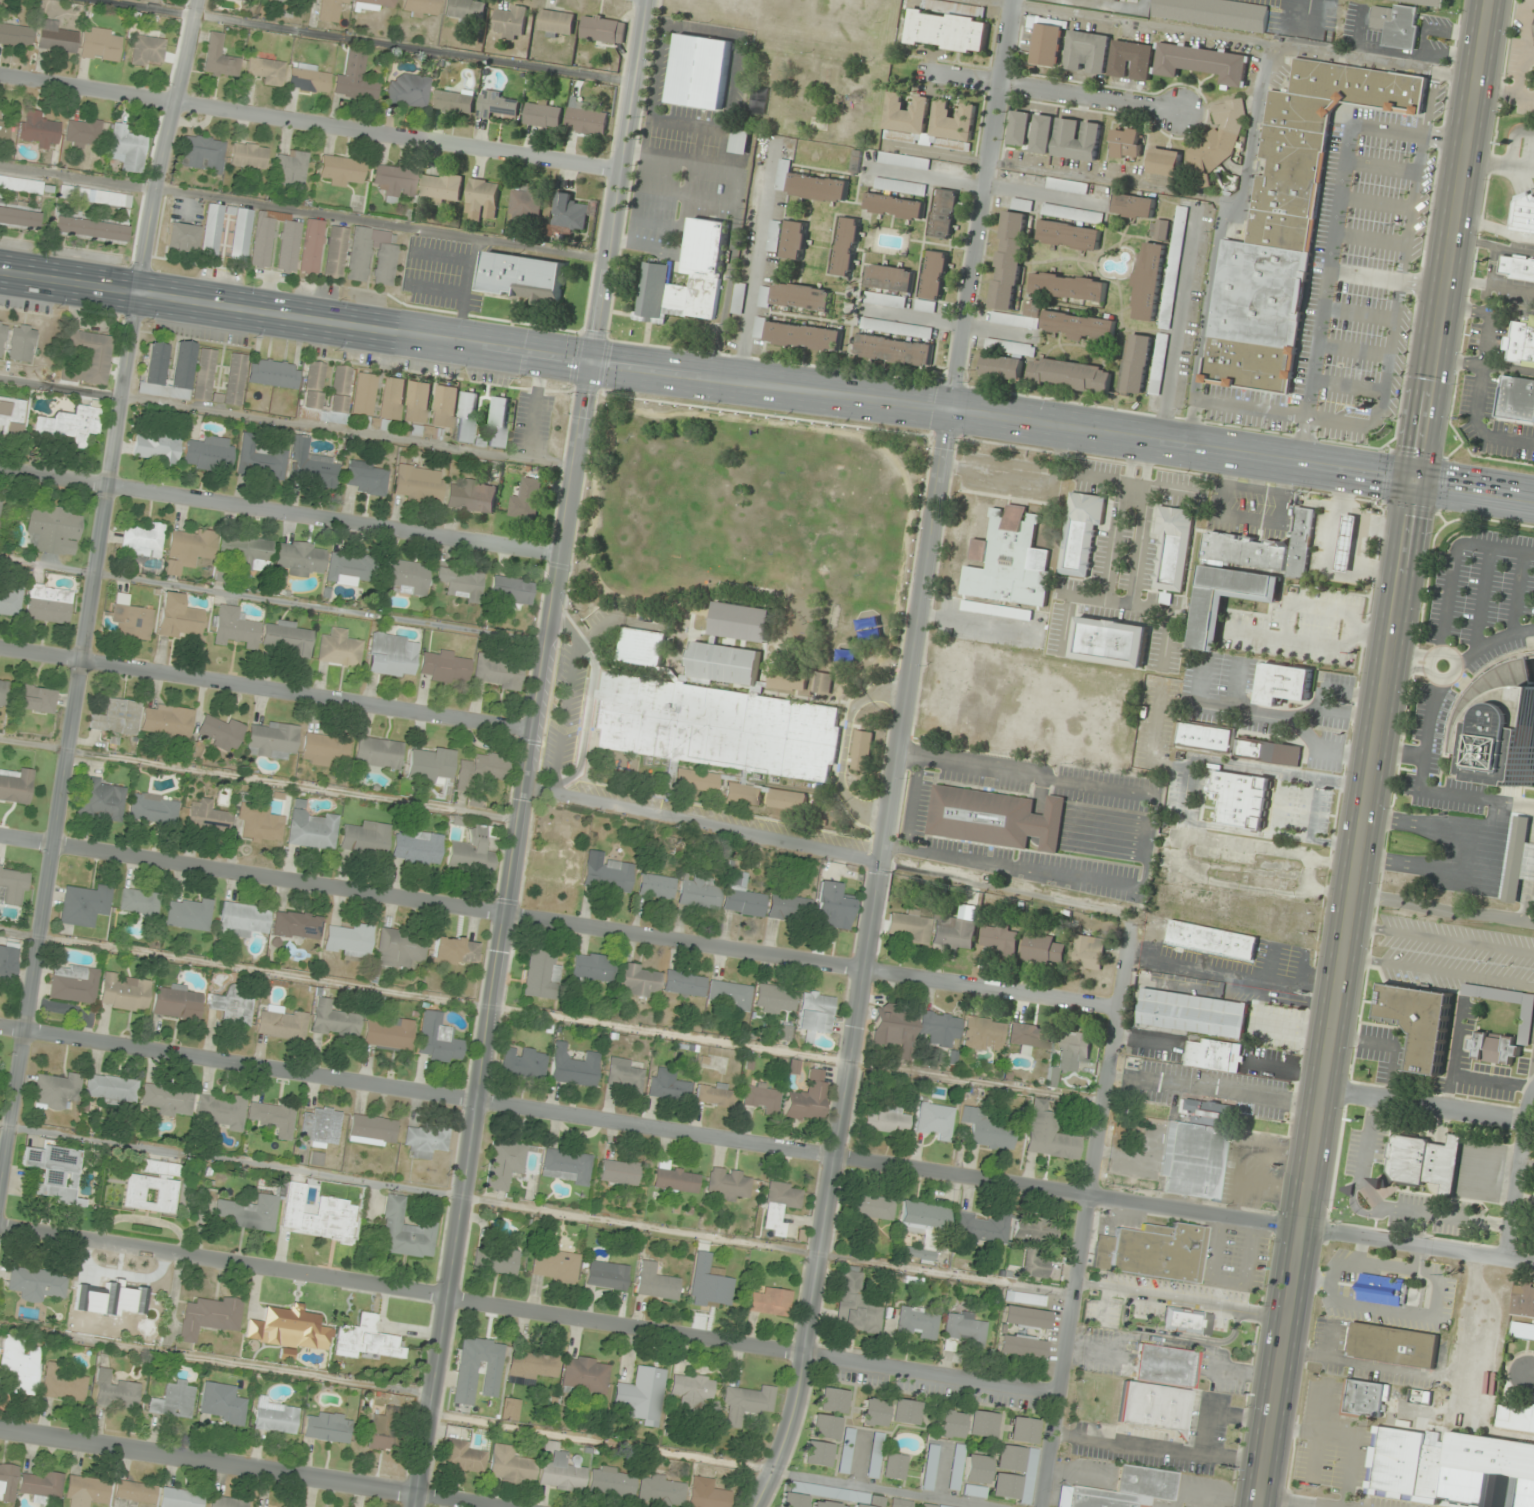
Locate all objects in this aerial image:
building: (285, 1)
building: (1425, 2)
building: (372, 4)
building: (421, 7)
building: (329, 9)
building: (466, 9)
building: (1213, 13)
building: (510, 23)
building: (557, 24)
road: (1139, 24)
building: (1397, 25)
building: (603, 29)
building: (947, 32)
building: (15, 35)
building: (56, 37)
building: (101, 44)
building: (1047, 46)
building: (147, 50)
building: (1087, 53)
building: (220, 58)
road: (1365, 59)
building: (1132, 60)
building: (1203, 63)
building: (265, 71)
building: (700, 71)
building: (309, 78)
building: (356, 78)
road: (1036, 89)
building: (409, 91)
building: (454, 101)
building: (497, 105)
building: (0, 109)
building: (543, 114)
building: (907, 118)
building: (587, 120)
road: (311, 124)
building: (953, 124)
building: (1020, 128)
building: (4, 129)
building: (37, 129)
building: (83, 132)
building: (1043, 134)
road: (1512, 138)
building: (1077, 139)
building: (740, 142)
building: (1218, 144)
building: (1127, 145)
building: (127, 149)
building: (202, 153)
building: (249, 157)
parking lot: (1518, 157)
building: (1165, 162)
road: (1499, 163)
road: (1379, 168)
building: (291, 170)
building: (341, 170)
road: (1057, 173)
building: (395, 181)
building: (26, 185)
building: (809, 185)
building: (1068, 186)
building: (441, 187)
building: (482, 195)
building: (94, 197)
building: (526, 202)
road: (1374, 204)
building: (894, 206)
building: (1134, 206)
road: (1231, 206)
building: (1522, 212)
building: (570, 213)
building: (944, 214)
building: (19, 216)
building: (1286, 222)
building: (90, 229)
road: (1495, 229)
building: (212, 230)
building: (1160, 230)
building: (242, 234)
building: (1069, 235)
road: (1332, 235)
building: (182, 237)
building: (263, 239)
road: (1454, 239)
building: (794, 240)
road: (1369, 240)
building: (289, 246)
building: (312, 246)
building: (846, 246)
road: (1493, 248)
building: (1177, 249)
building: (335, 251)
building: (372, 257)
building: (1008, 260)
building: (1517, 267)
building: (703, 269)
building: (935, 275)
building: (525, 278)
building: (889, 278)
road: (1387, 280)
building: (1148, 282)
parking lot: (1352, 282)
road: (1491, 285)
building: (1069, 287)
building: (801, 297)
road: (1358, 314)
road: (1178, 322)
building: (1079, 326)
building: (2, 336)
building: (803, 336)
building: (1520, 342)
building: (22, 343)
building: (894, 351)
road: (1352, 351)
building: (88, 357)
traffic signals: (594, 361)
building: (1135, 365)
road: (1484, 365)
building: (1002, 368)
building: (168, 369)
building: (274, 373)
building: (205, 374)
building: (1070, 375)
road: (708, 377)
road: (1481, 377)
road: (1347, 387)
building: (313, 391)
road: (1383, 392)
building: (340, 393)
building: (365, 397)
building: (1515, 400)
building: (391, 402)
building: (417, 402)
building: (445, 407)
road: (1352, 410)
building: (11, 416)
building: (467, 417)
road: (289, 422)
building: (498, 422)
building: (70, 425)
building: (156, 447)
building: (209, 454)
building: (261, 459)
building: (312, 466)
building: (368, 477)
traffic signals: (1417, 480)
building: (419, 483)
road: (1475, 489)
building: (473, 496)
building: (527, 500)
building: (0, 503)
road: (282, 510)
road: (1385, 528)
building: (54, 529)
road: (1361, 529)
building: (1081, 533)
building: (143, 540)
building: (1300, 543)
building: (1346, 544)
gas station: (1346, 544)
building: (1173, 548)
building: (188, 549)
building: (248, 551)
building: (300, 558)
road: (1451, 559)
building: (1010, 560)
road: (1331, 560)
building: (350, 568)
building: (407, 576)
building: (460, 583)
road: (1516, 592)
road: (1481, 598)
building: (11, 601)
building: (48, 603)
road: (92, 608)
building: (997, 611)
building: (179, 617)
building: (128, 620)
building: (741, 624)
building: (235, 627)
building: (289, 638)
road: (1491, 640)
building: (1110, 642)
building: (643, 647)
building: (340, 649)
road: (1412, 653)
building: (393, 654)
building: (723, 665)
building: (446, 666)
road: (1408, 669)
building: (497, 672)
road: (1450, 674)
building: (787, 680)
building: (1284, 683)
road: (269, 687)
building: (3, 692)
building: (35, 698)
road: (564, 715)
road: (588, 715)
building: (117, 717)
building: (167, 721)
building: (1498, 721)
building: (717, 729)
building: (220, 731)
building: (1204, 738)
building: (271, 740)
road: (844, 748)
building: (323, 749)
building: (862, 750)
building: (1267, 752)
building: (378, 753)
road: (534, 753)
road: (1398, 753)
road: (898, 757)
building: (430, 764)
building: (481, 770)
building: (15, 787)
road: (1423, 788)
building: (743, 793)
building: (1240, 799)
building: (101, 800)
building: (788, 800)
building: (154, 808)
building: (207, 817)
building: (994, 818)
building: (260, 822)
road: (704, 826)
road: (1437, 827)
building: (314, 831)
building: (366, 838)
road: (1517, 840)
road: (1529, 841)
building: (418, 848)
building: (471, 853)
building: (1518, 860)
building: (554, 869)
road: (1431, 870)
building: (608, 876)
road: (1511, 882)
building: (13, 885)
building: (656, 886)
building: (698, 892)
building: (1533, 892)
building: (742, 896)
road: (1526, 897)
building: (140, 902)
building: (85, 905)
building: (832, 906)
building: (788, 907)
road: (1443, 911)
building: (189, 913)
building: (243, 919)
road: (560, 922)
building: (297, 925)
building: (909, 926)
building: (954, 932)
building: (1000, 939)
road: (1441, 939)
building: (350, 940)
building: (1212, 940)
building: (401, 948)
building: (1043, 949)
building: (455, 950)
building: (1089, 952)
building: (9, 962)
building: (593, 969)
road: (1438, 971)
building: (542, 974)
building: (641, 979)
building: (685, 983)
building: (74, 984)
building: (125, 992)
road: (1337, 993)
building: (731, 995)
building: (775, 998)
building: (177, 1002)
building: (233, 1007)
building: (815, 1014)
building: (1193, 1014)
building: (1526, 1019)
building: (335, 1021)
building: (282, 1022)
building: (1419, 1023)
building: (894, 1028)
building: (940, 1028)
building: (389, 1033)
building: (984, 1034)
building: (1029, 1036)
building: (438, 1039)
building: (1071, 1053)
road: (1451, 1053)
building: (1214, 1054)
building: (524, 1062)
building: (574, 1067)
building: (624, 1074)
road: (1533, 1077)
road: (1490, 1081)
building: (668, 1085)
building: (112, 1088)
building: (56, 1090)
building: (715, 1094)
building: (762, 1097)
building: (808, 1098)
building: (169, 1100)
road: (1423, 1104)
building: (220, 1111)
building: (273, 1118)
building: (888, 1120)
building: (933, 1120)
building: (321, 1126)
building: (987, 1129)
building: (373, 1130)
building: (1049, 1134)
building: (426, 1140)
road: (767, 1145)
building: (1195, 1150)
building: (317, 1158)
building: (504, 1162)
building: (1425, 1162)
road: (1526, 1164)
building: (566, 1166)
building: (56, 1172)
building: (619, 1172)
road: (1516, 1172)
building: (675, 1179)
building: (728, 1183)
building: (153, 1187)
building: (780, 1204)
building: (872, 1209)
building: (250, 1212)
building: (318, 1214)
road: (1092, 1215)
building: (1532, 1219)
building: (923, 1227)
building: (984, 1228)
building: (404, 1232)
building: (1035, 1243)
building: (1152, 1251)
road: (1358, 1251)
building: (495, 1260)
road: (1418, 1261)
building: (555, 1265)
building: (607, 1274)
road: (1311, 1280)
building: (37, 1282)
building: (657, 1282)
building: (715, 1289)
building: (1378, 1290)
parking lot: (1334, 1291)
road: (1434, 1297)
building: (1025, 1298)
building: (772, 1302)
building: (112, 1305)
building: (857, 1306)
road: (530, 1310)
building: (1523, 1314)
building: (209, 1317)
building: (1025, 1317)
building: (1185, 1319)
building: (917, 1322)
building: (291, 1328)
building: (964, 1328)
building: (366, 1339)
building: (1020, 1345)
building: (1391, 1346)
building: (20, 1363)
building: (535, 1365)
building: (586, 1375)
road: (1531, 1375)
building: (466, 1378)
building: (64, 1384)
building: (116, 1391)
building: (692, 1391)
building: (641, 1394)
building: (174, 1399)
building: (833, 1400)
building: (1364, 1400)
building: (747, 1403)
building: (225, 1406)
building: (1151, 1407)
building: (511, 1409)
building: (873, 1412)
building: (905, 1412)
building: (275, 1416)
road: (1240, 1417)
building: (1516, 1418)
building: (950, 1424)
building: (981, 1424)
building: (329, 1427)
building: (825, 1427)
building: (1022, 1430)
building: (383, 1432)
road: (1319, 1432)
road: (1346, 1437)
parking lot: (1160, 1438)
road: (1159, 1449)
building: (817, 1453)
building: (462, 1457)
building: (1009, 1458)
road: (1233, 1458)
building: (1438, 1461)
building: (895, 1466)
road: (248, 1467)
building: (930, 1467)
building: (976, 1468)
building: (560, 1469)
building: (1029, 1476)
building: (612, 1481)
building: (8, 1482)
building: (42, 1486)
building: (1004, 1486)
building: (1125, 1489)
building: (87, 1491)
building: (136, 1491)
building: (661, 1491)
building: (974, 1491)
building: (707, 1495)
building: (180, 1498)
building: (793, 1500)
building: (228, 1502)
road: (1282, 1503)
building: (826, 1504)
building: (285, 1506)
building: (859, 1506)

